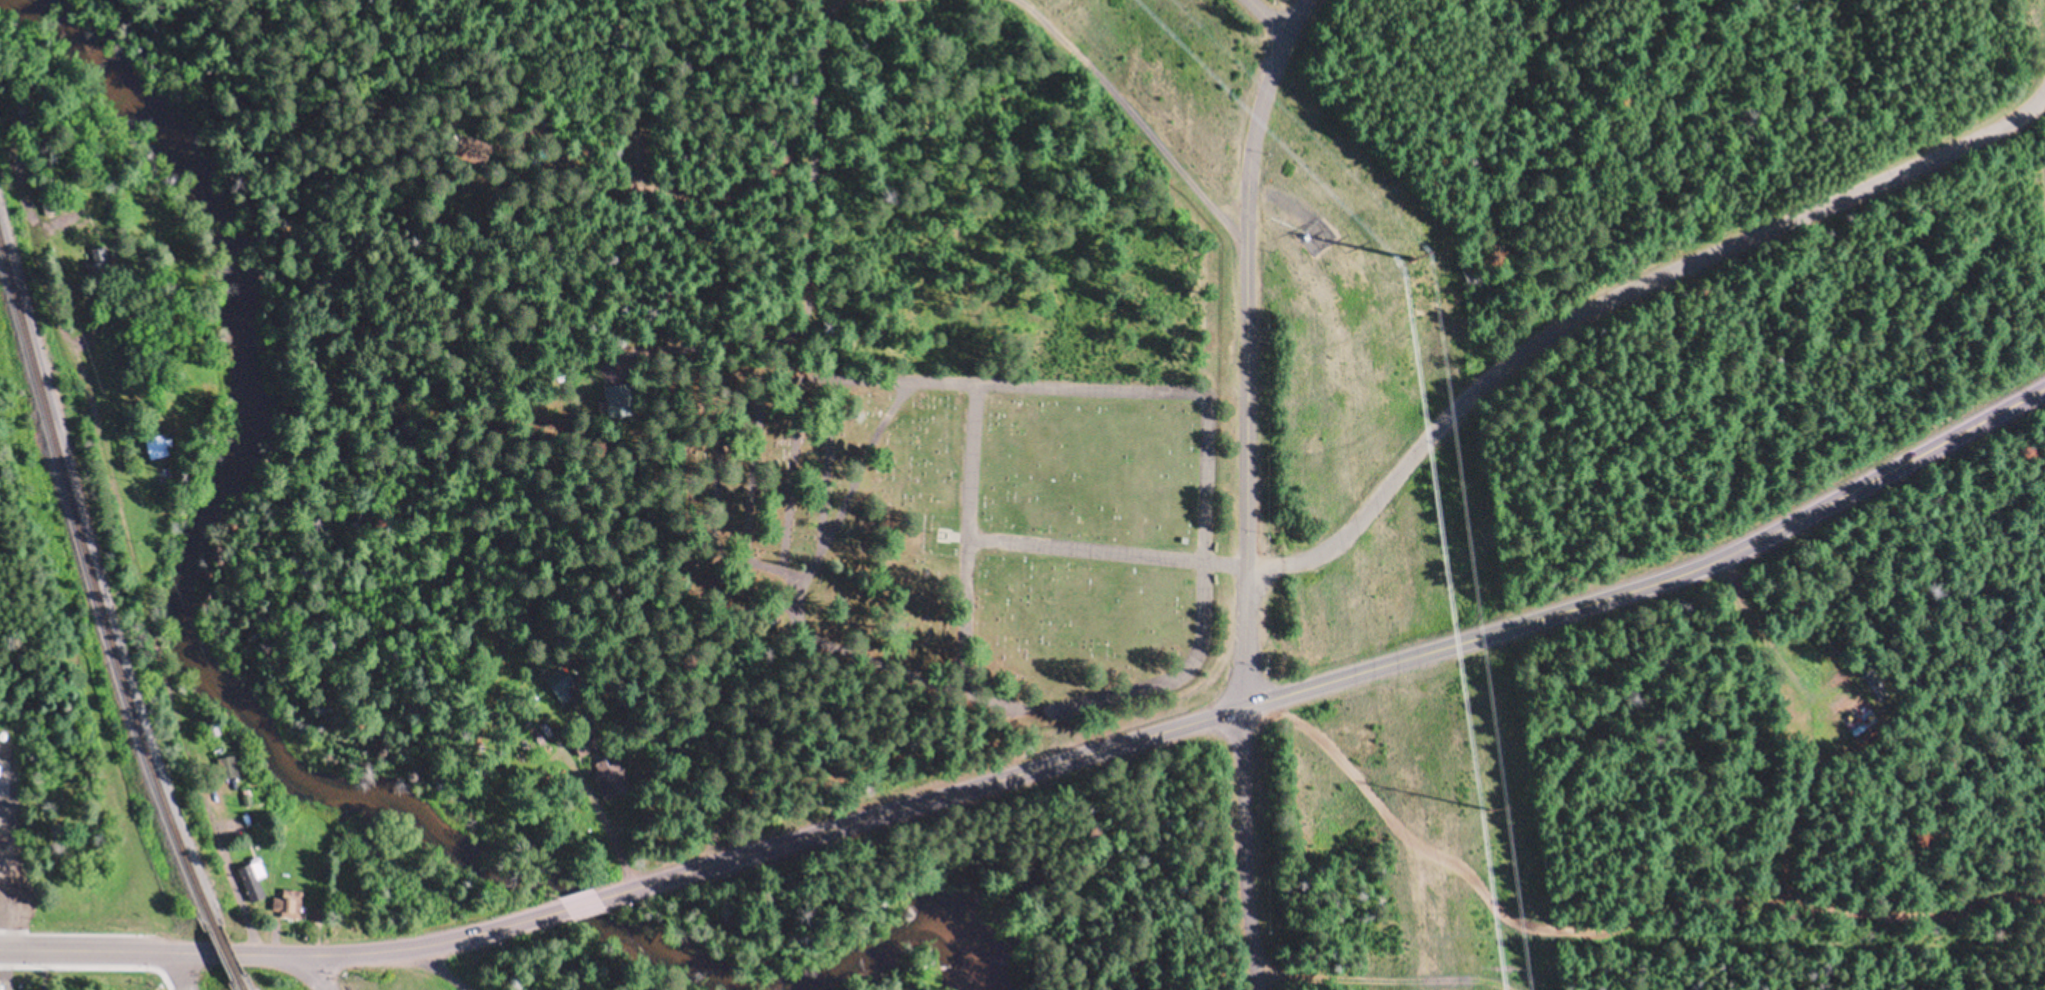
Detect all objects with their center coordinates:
road: (1267, 18)
building: (47, 204)
building: (101, 258)
power tower: (1412, 260)
road: (1251, 278)
road: (1619, 299)
road: (917, 378)
building: (614, 402)
building: (157, 446)
park: (1503, 485)
road: (1092, 551)
park: (940, 561)
road: (1231, 564)
river: (212, 582)
railway: (95, 585)
road: (146, 589)
road: (1247, 638)
road: (1767, 638)
road: (1176, 673)
road: (1337, 681)
building: (1863, 720)
building: (607, 774)
power tower: (1494, 812)
road: (1250, 841)
road: (616, 845)
building: (255, 864)
road: (4, 898)
building: (285, 900)
road: (580, 905)
building: (318, 914)
road: (1618, 924)
river: (903, 945)
road: (283, 953)
railway: (230, 955)
road: (439, 966)
road: (1395, 969)
road: (177, 971)
road: (315, 973)
road: (1260, 981)
railway: (244, 985)

